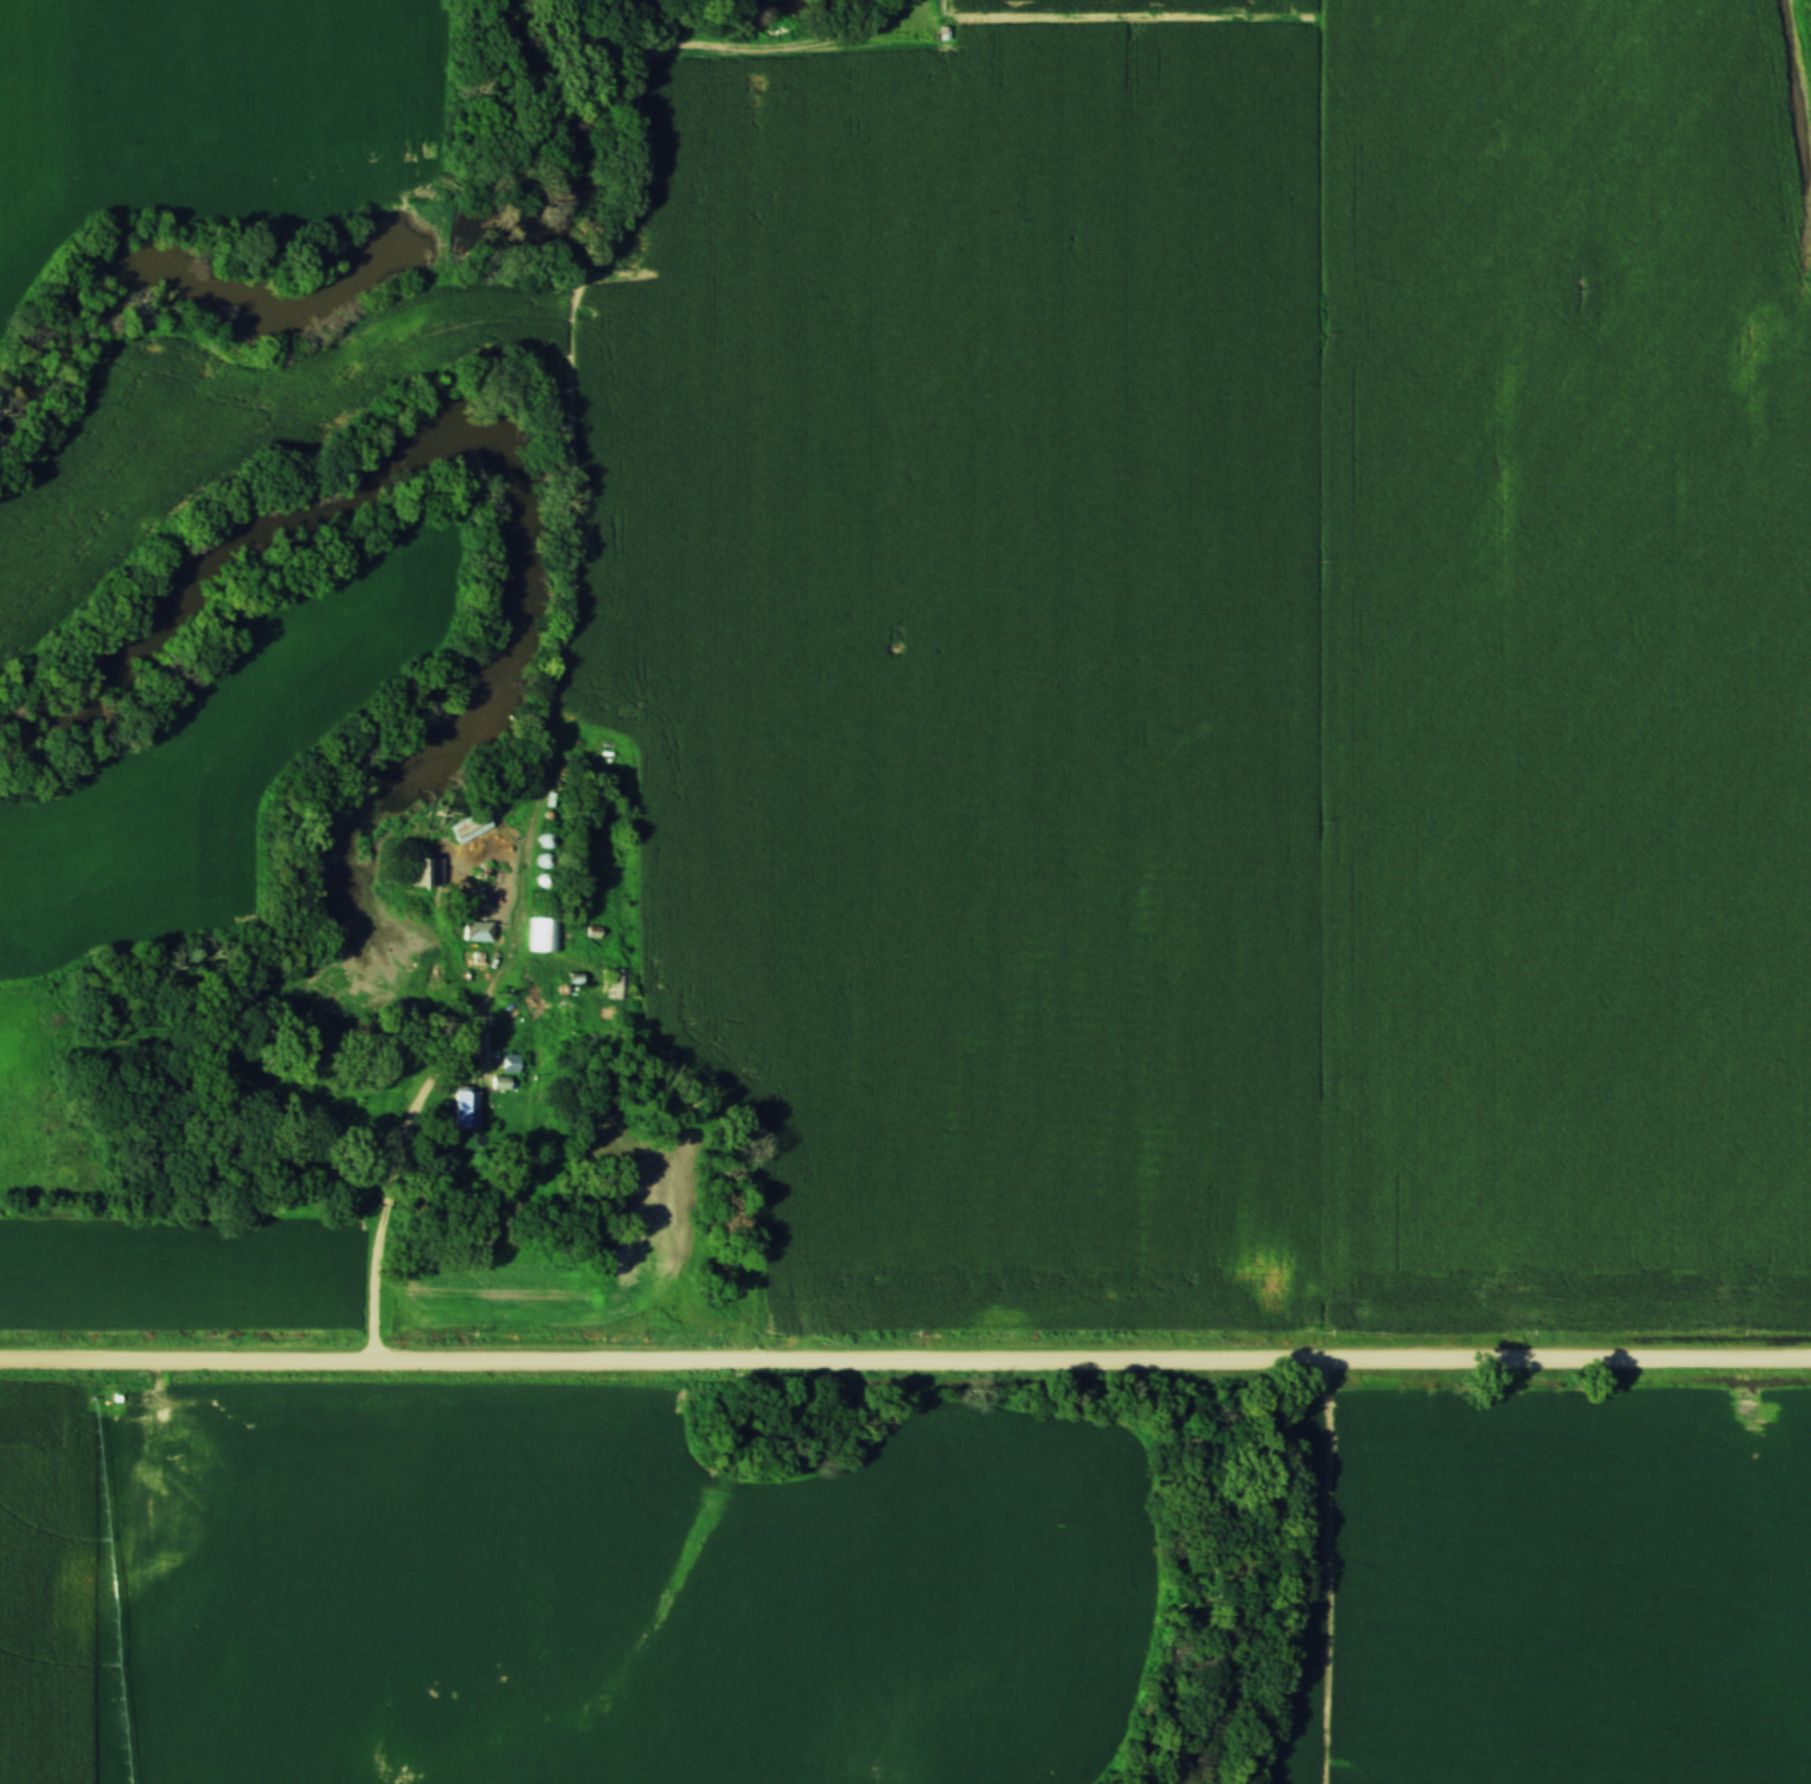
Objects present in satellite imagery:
building: (466, 827)
building: (422, 870)
building: (474, 932)
building: (540, 935)
building: (616, 984)
building: (506, 1064)
building: (461, 1108)
road: (391, 1188)
road: (905, 1361)

